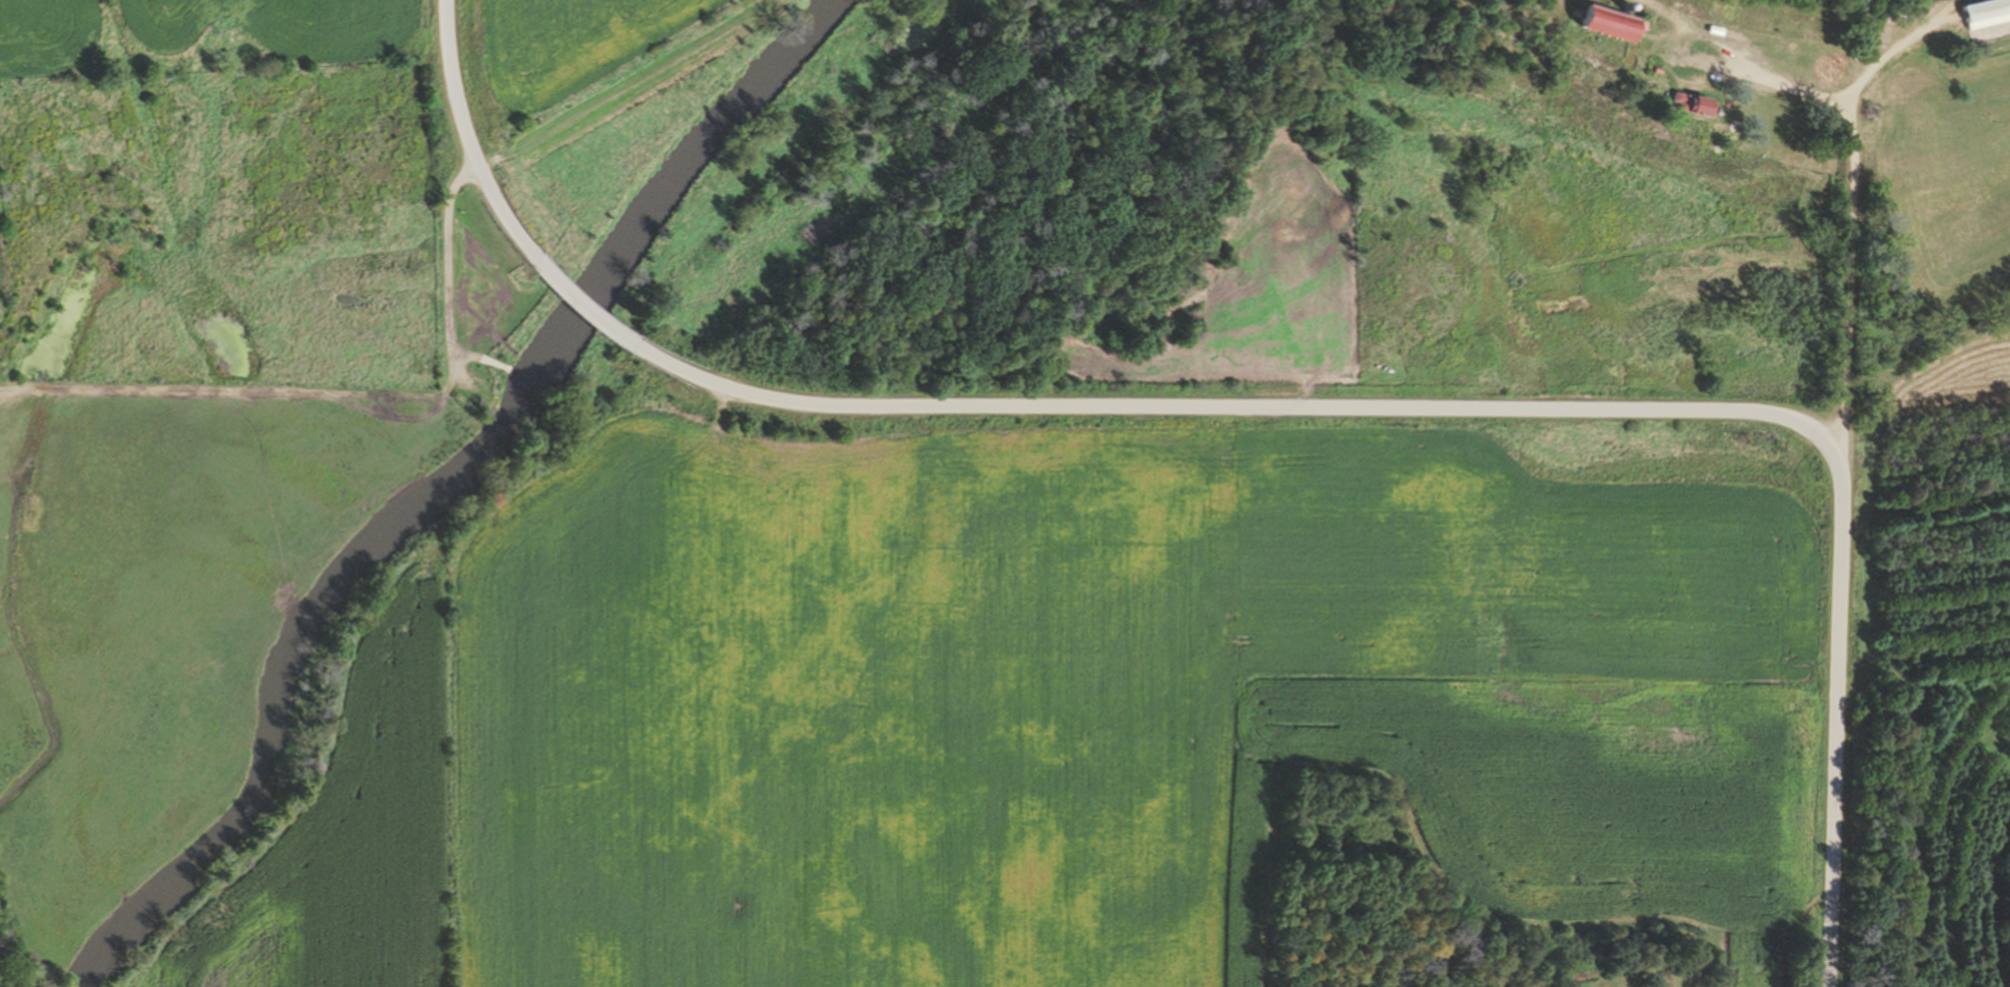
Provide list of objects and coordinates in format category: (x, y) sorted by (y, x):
building: (1982, 13)
building: (1598, 22)
road: (1801, 90)
building: (1685, 104)
road: (472, 156)
road: (1844, 300)
road: (587, 313)
road: (1230, 405)
river: (440, 487)
road: (1837, 724)

